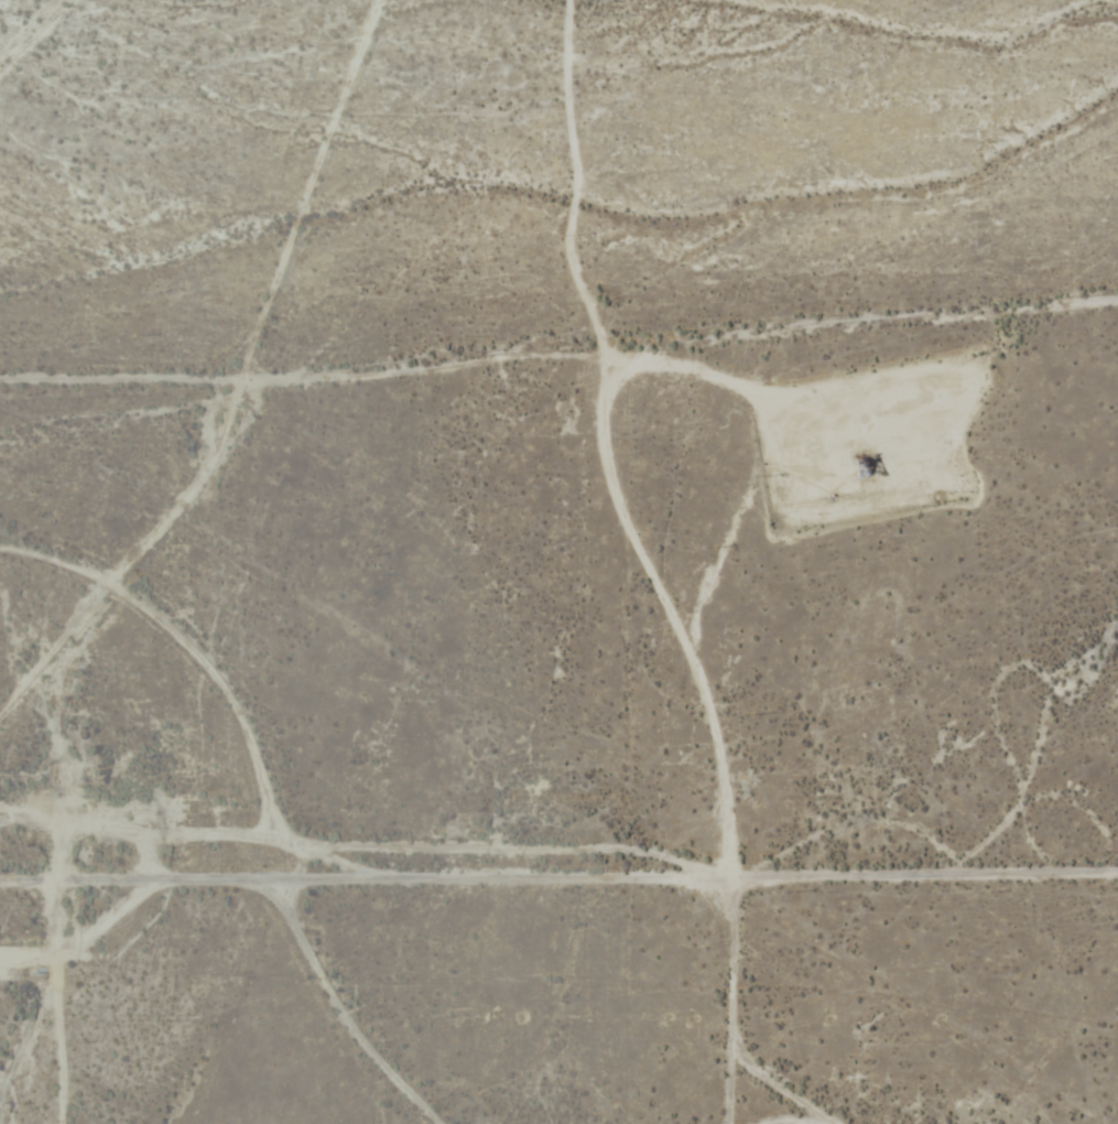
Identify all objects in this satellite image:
crop: (556, 194)
road: (558, 387)

